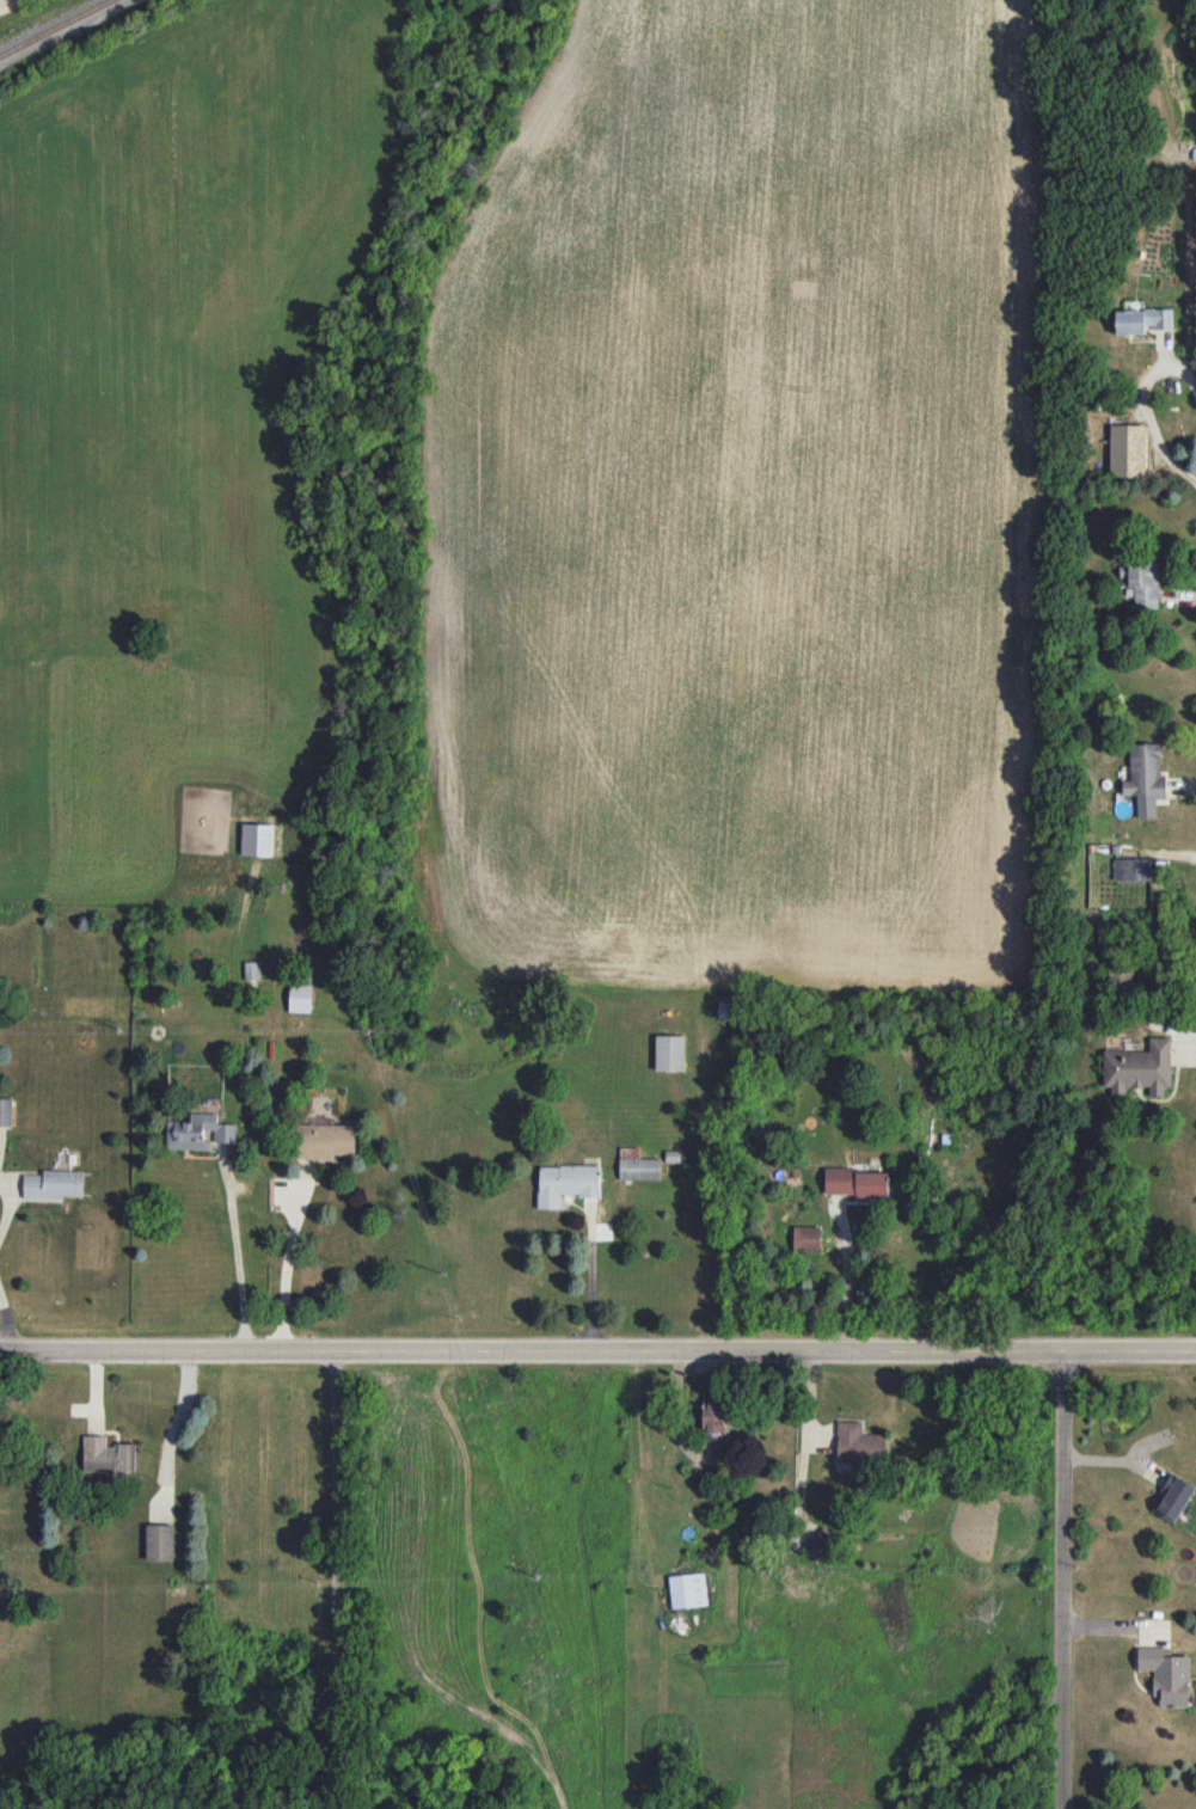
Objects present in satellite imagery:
railway: (54, 27)
building: (1142, 320)
road: (1147, 427)
building: (1127, 449)
building: (1143, 582)
building: (1145, 778)
building: (257, 839)
building: (1131, 869)
building: (251, 969)
building: (299, 997)
building: (669, 1051)
building: (1139, 1067)
building: (6, 1111)
building: (197, 1132)
building: (324, 1140)
building: (637, 1165)
building: (854, 1181)
building: (565, 1183)
building: (54, 1184)
road: (8, 1202)
building: (805, 1238)
road: (237, 1257)
road: (287, 1273)
road: (842, 1274)
road: (6, 1322)
road: (597, 1348)
building: (713, 1411)
building: (859, 1443)
building: (108, 1454)
building: (1172, 1497)
building: (158, 1544)
building: (820, 1544)
road: (1061, 1580)
building: (687, 1589)
building: (1166, 1674)

